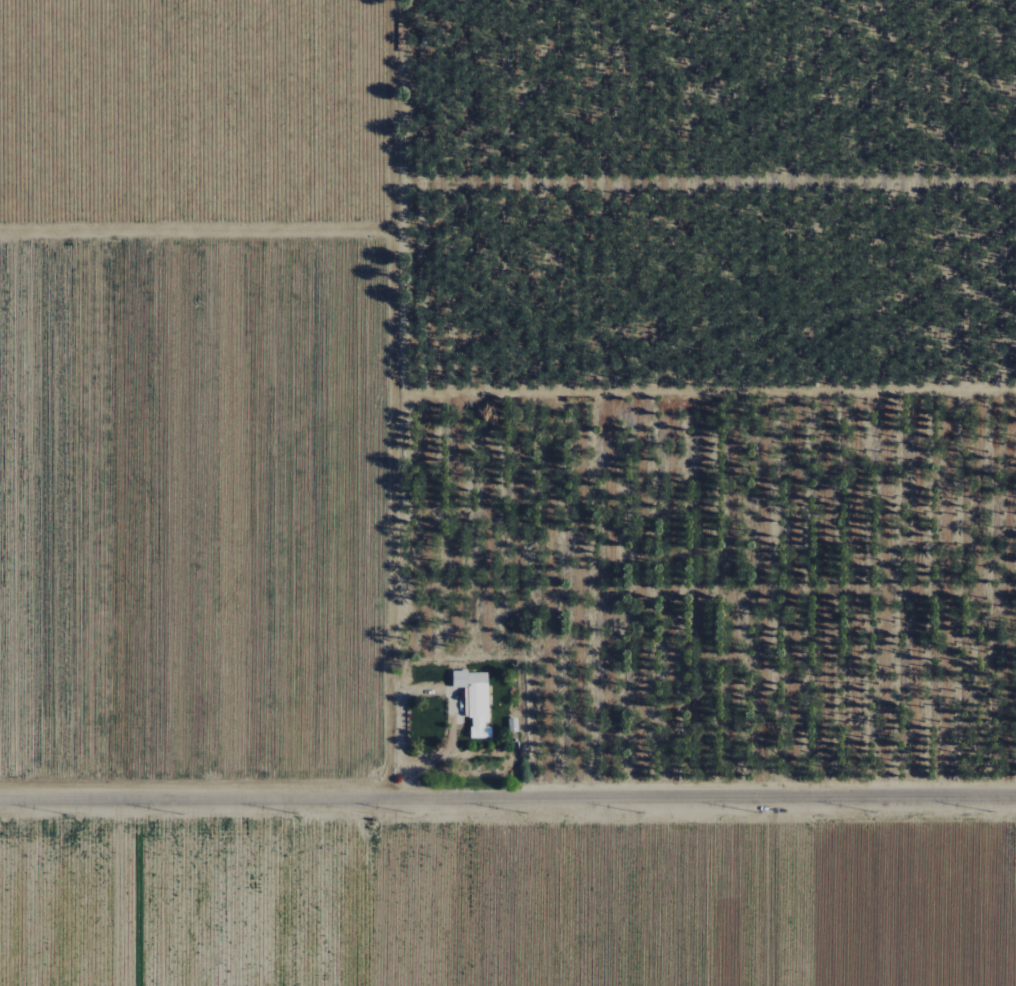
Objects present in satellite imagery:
road: (424, 691)
building: (472, 701)
road: (508, 798)
crop: (508, 899)

